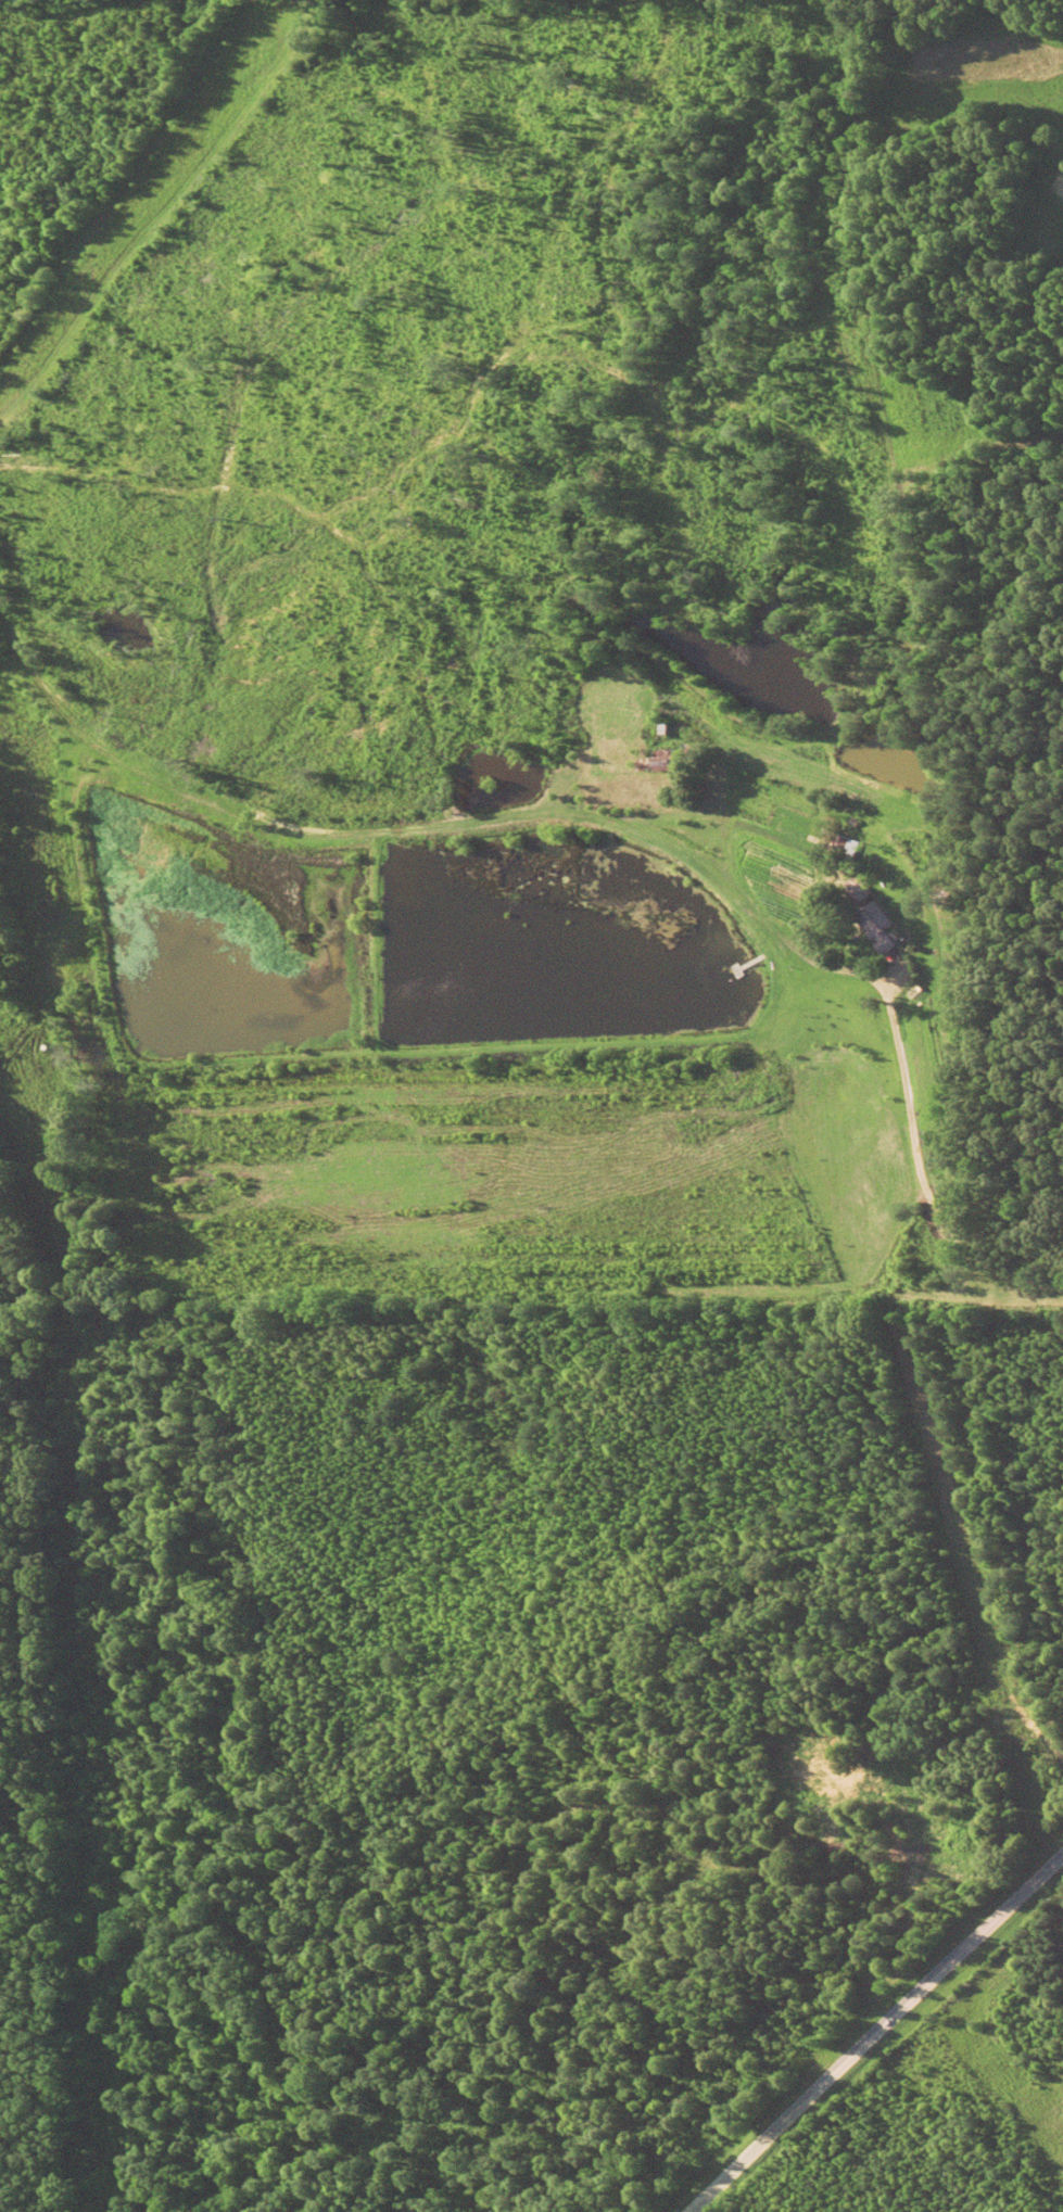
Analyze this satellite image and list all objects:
building: (660, 758)
building: (833, 843)
building: (853, 889)
building: (872, 925)
road: (865, 1026)
road: (870, 2029)

